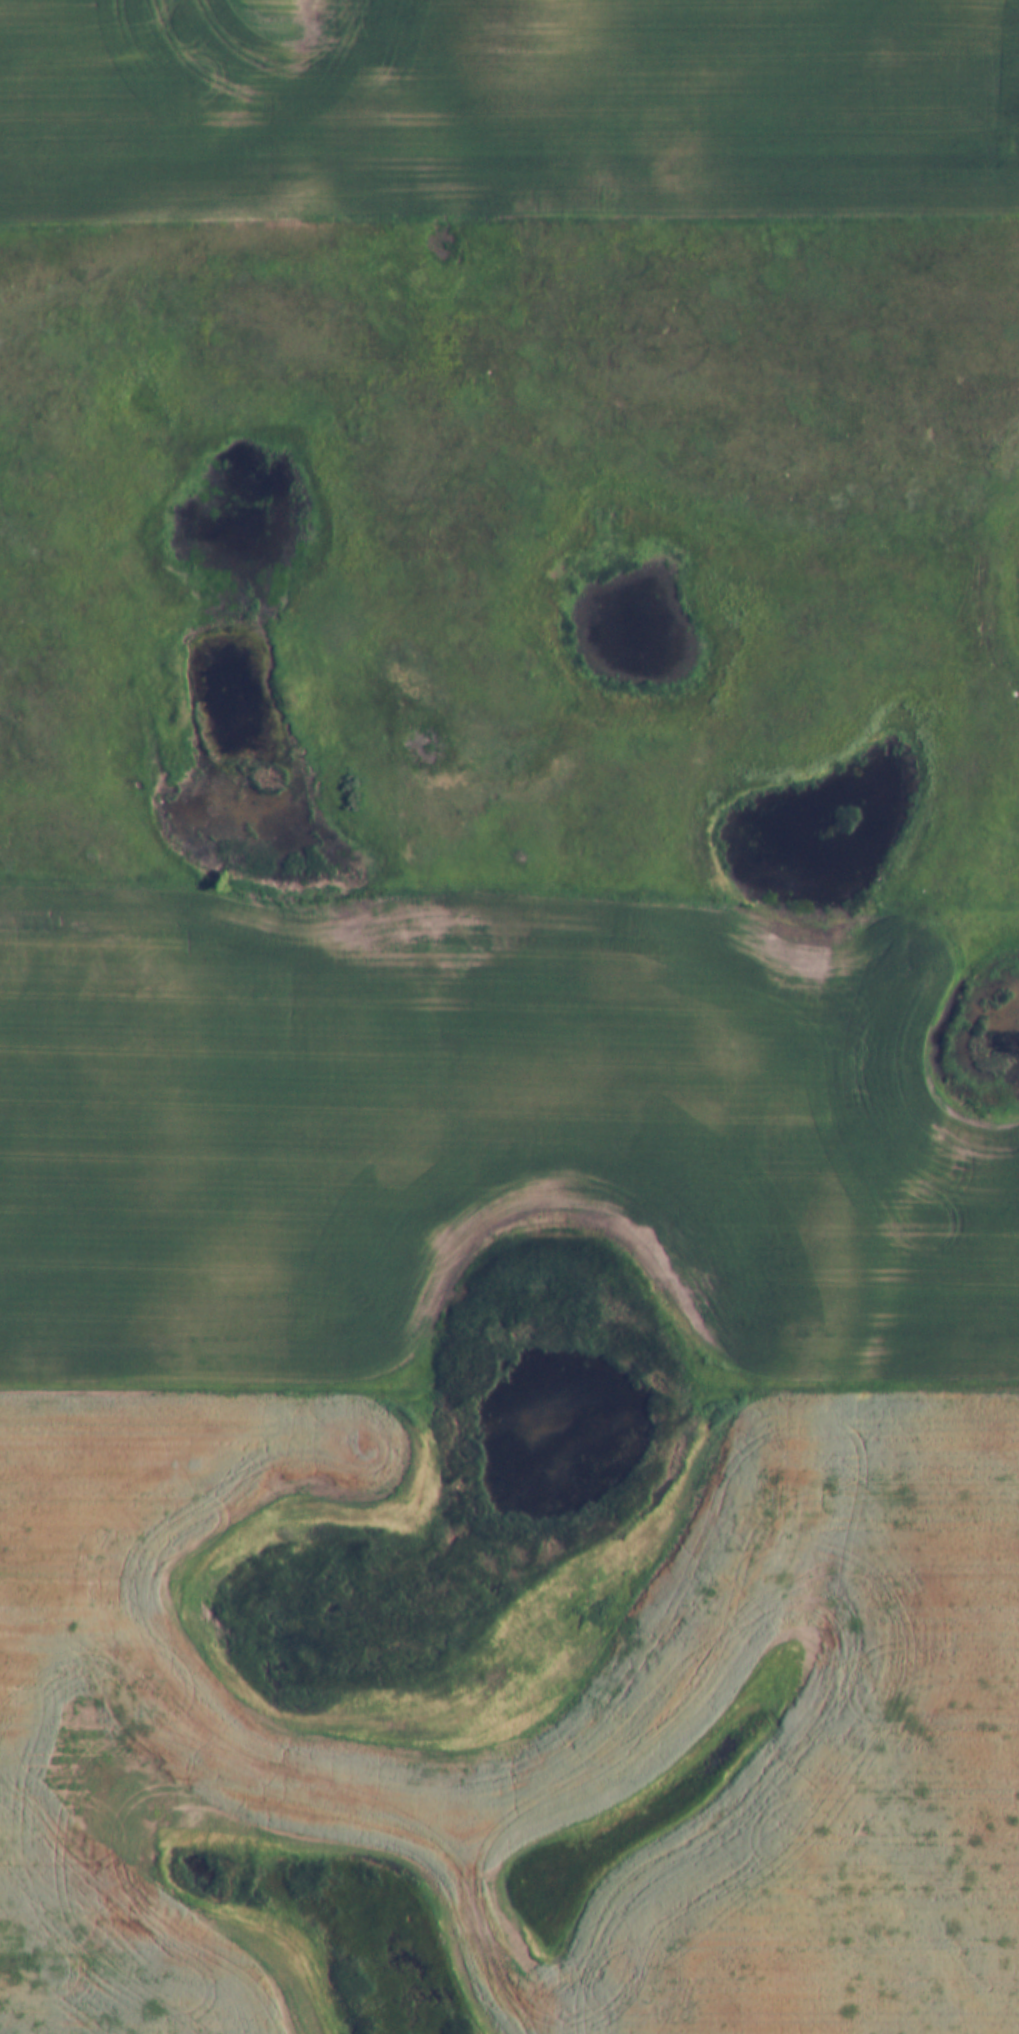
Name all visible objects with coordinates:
road: (509, 1399)

